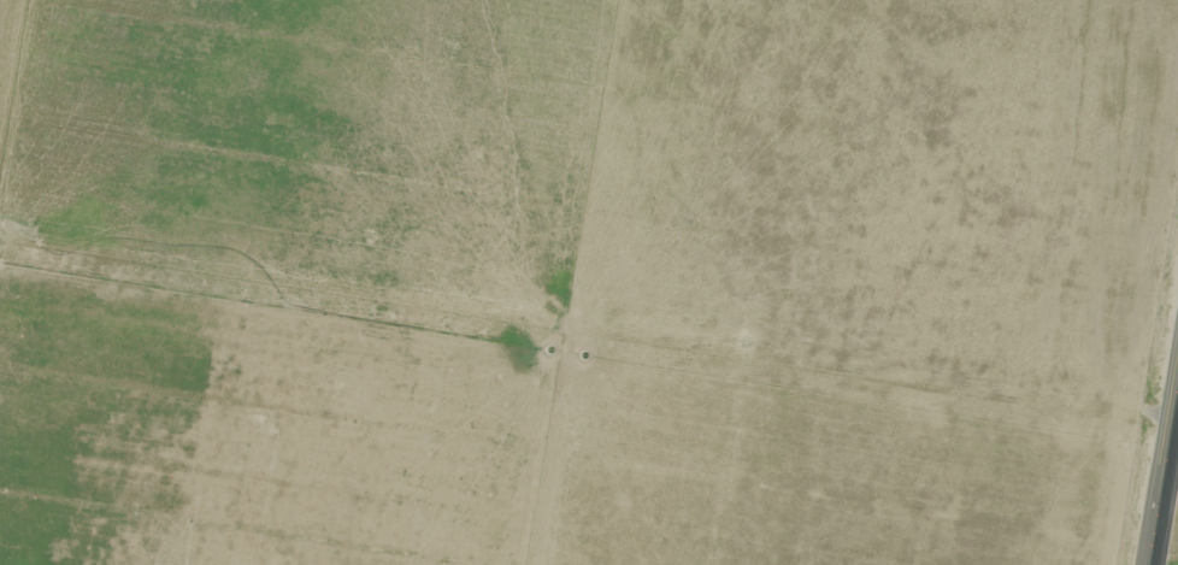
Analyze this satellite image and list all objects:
road: (1172, 424)
road: (1159, 512)

